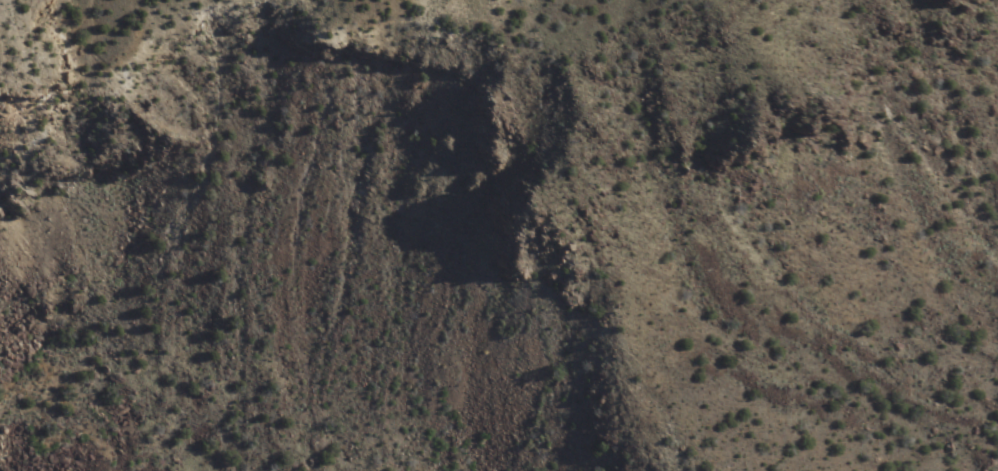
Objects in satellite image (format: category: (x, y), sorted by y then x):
road: (43, 89)

